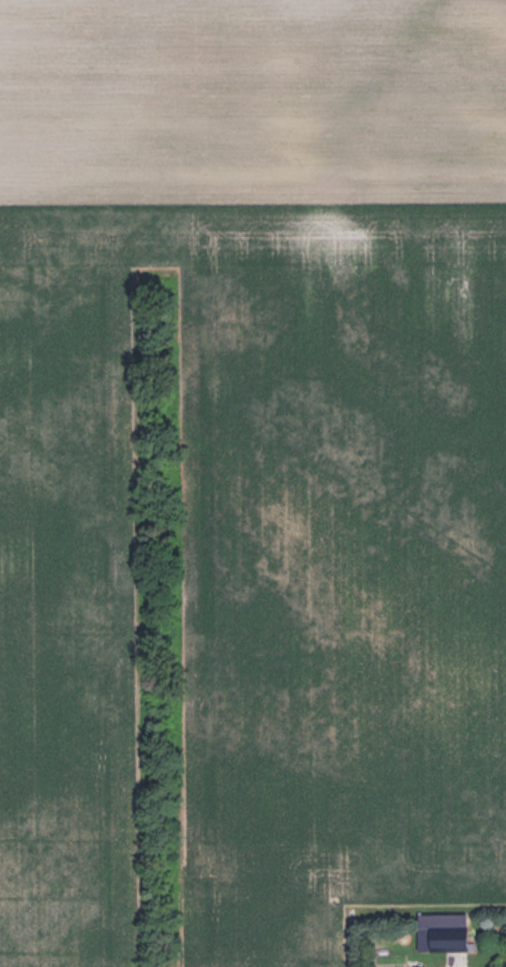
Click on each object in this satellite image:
building: (442, 931)
building: (421, 966)

